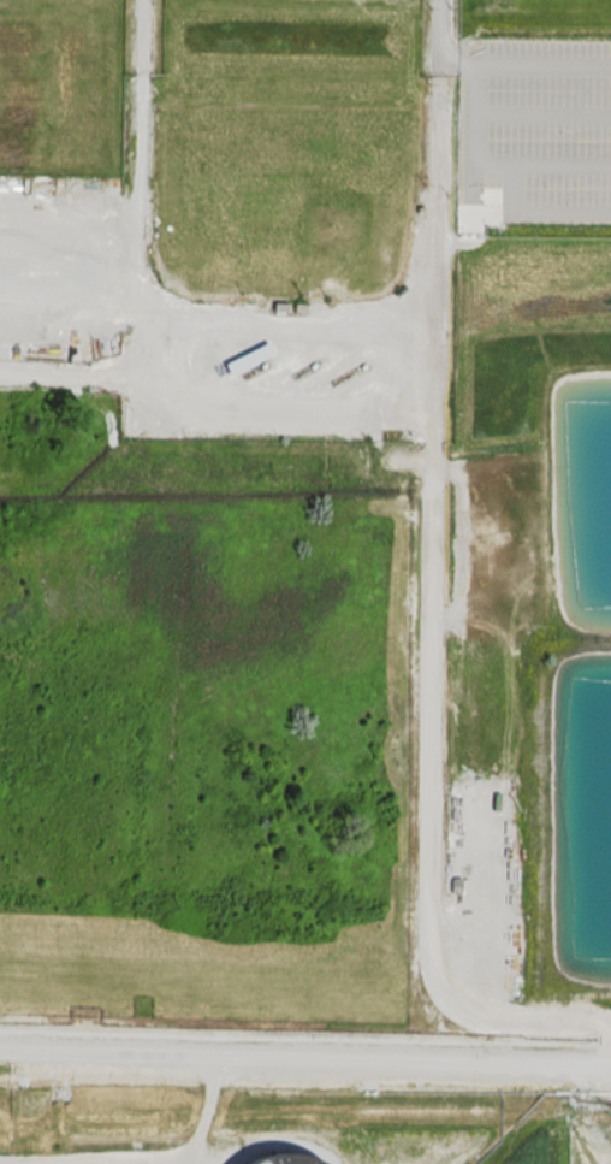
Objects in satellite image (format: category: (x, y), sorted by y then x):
storage tank: (287, 1157)

